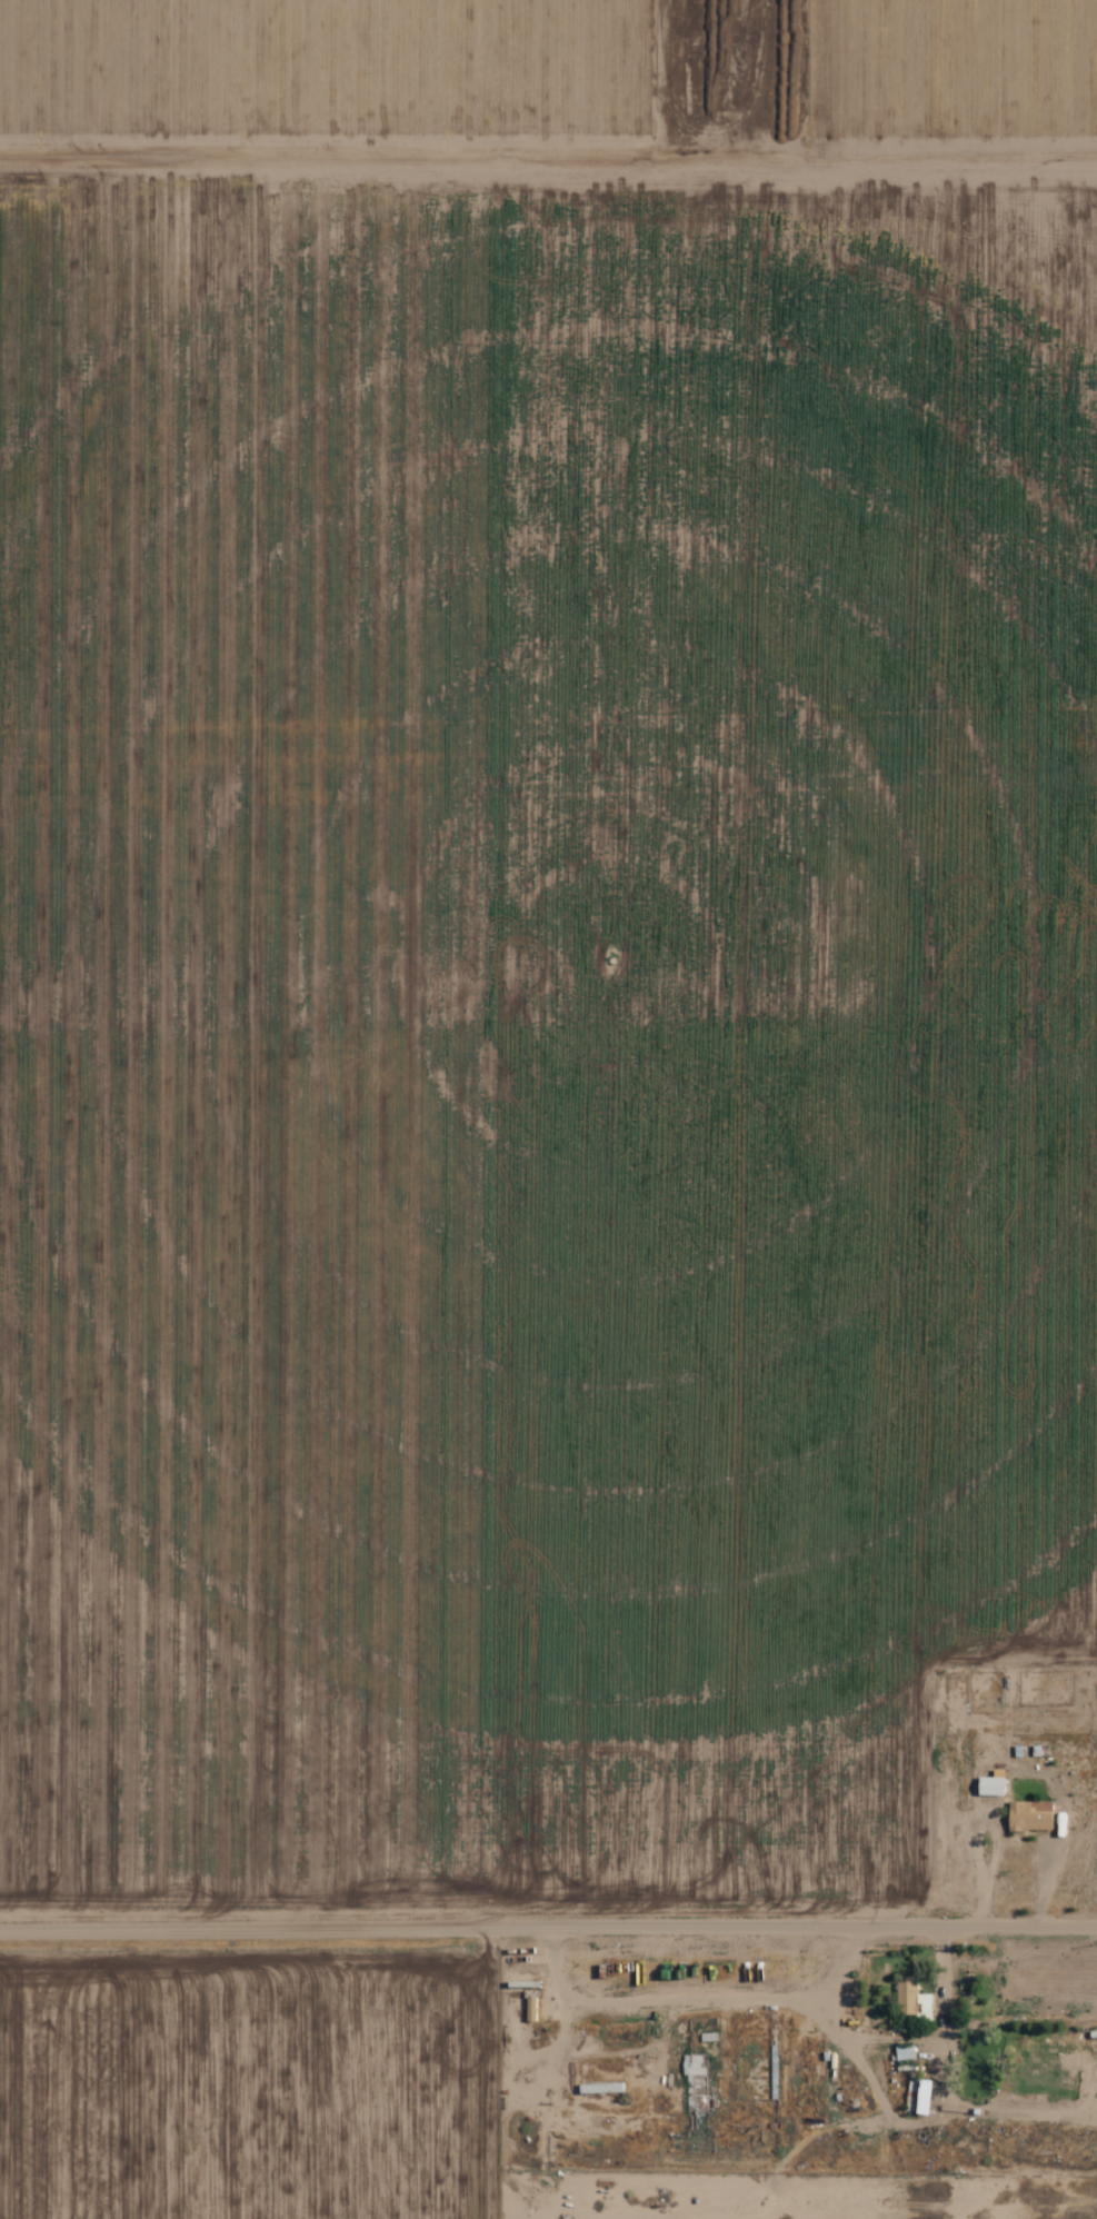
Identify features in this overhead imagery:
building: (991, 1784)
building: (1030, 1815)
road: (548, 1904)
building: (907, 1997)
building: (696, 2083)
building: (606, 2088)
building: (925, 2096)

